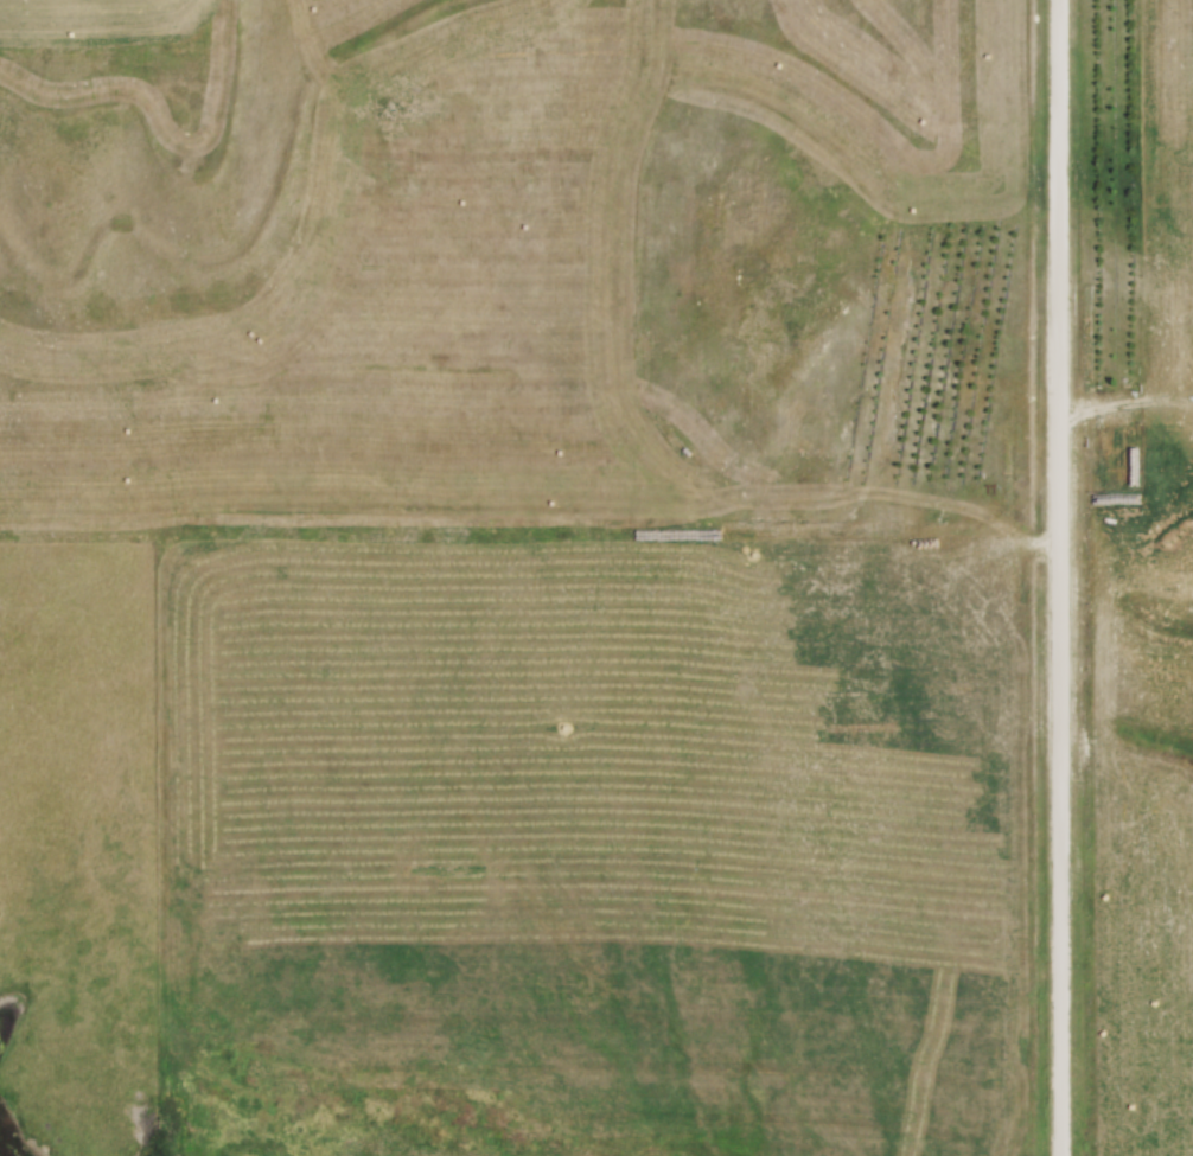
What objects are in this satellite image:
road: (1060, 577)

